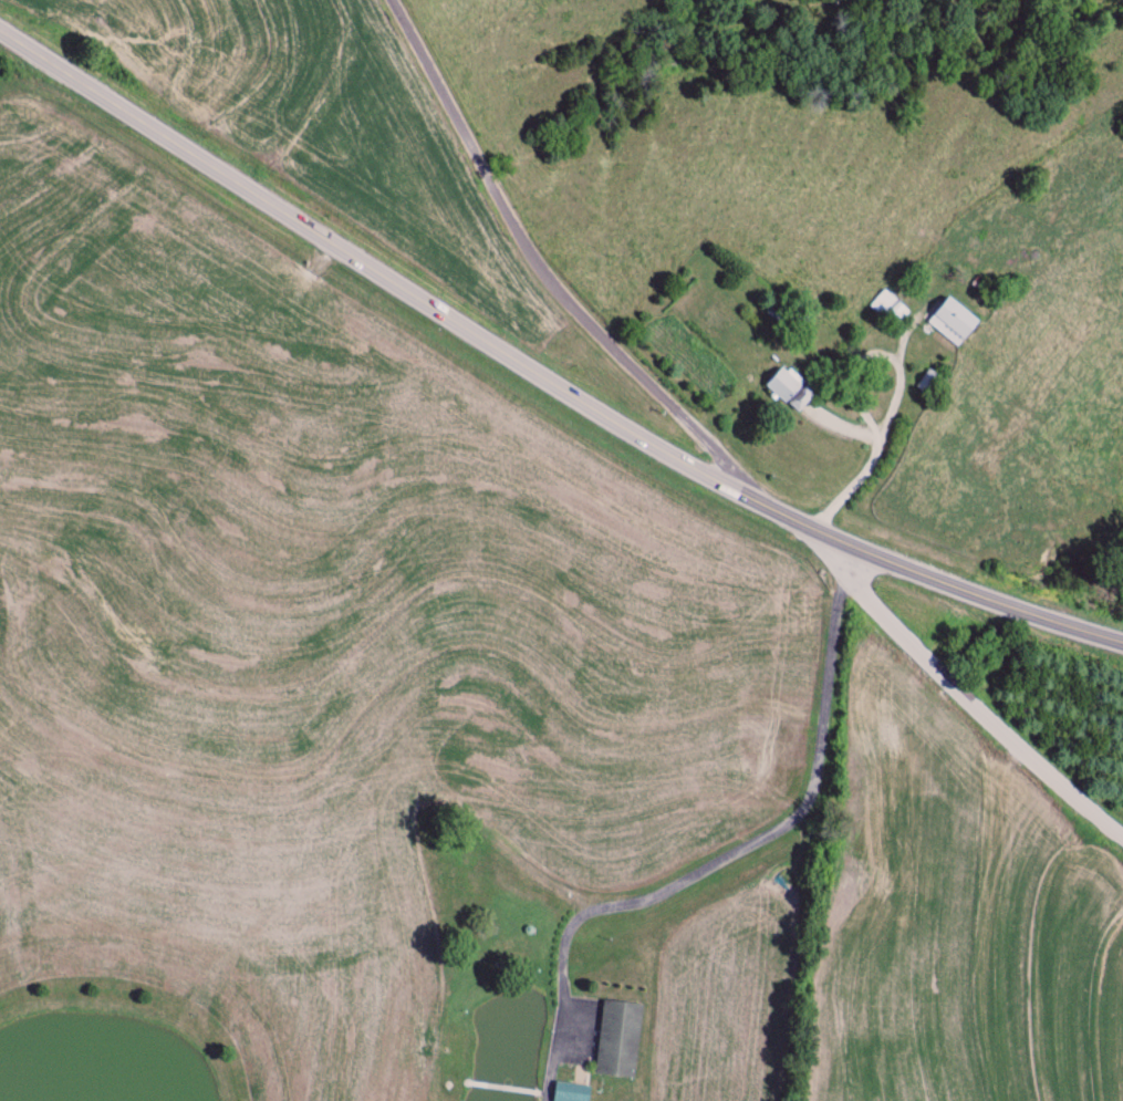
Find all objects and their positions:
road: (549, 273)
building: (890, 310)
building: (952, 322)
road: (543, 364)
building: (788, 389)
road: (898, 391)
road: (968, 699)
road: (737, 850)
building: (618, 1040)
building: (571, 1092)

